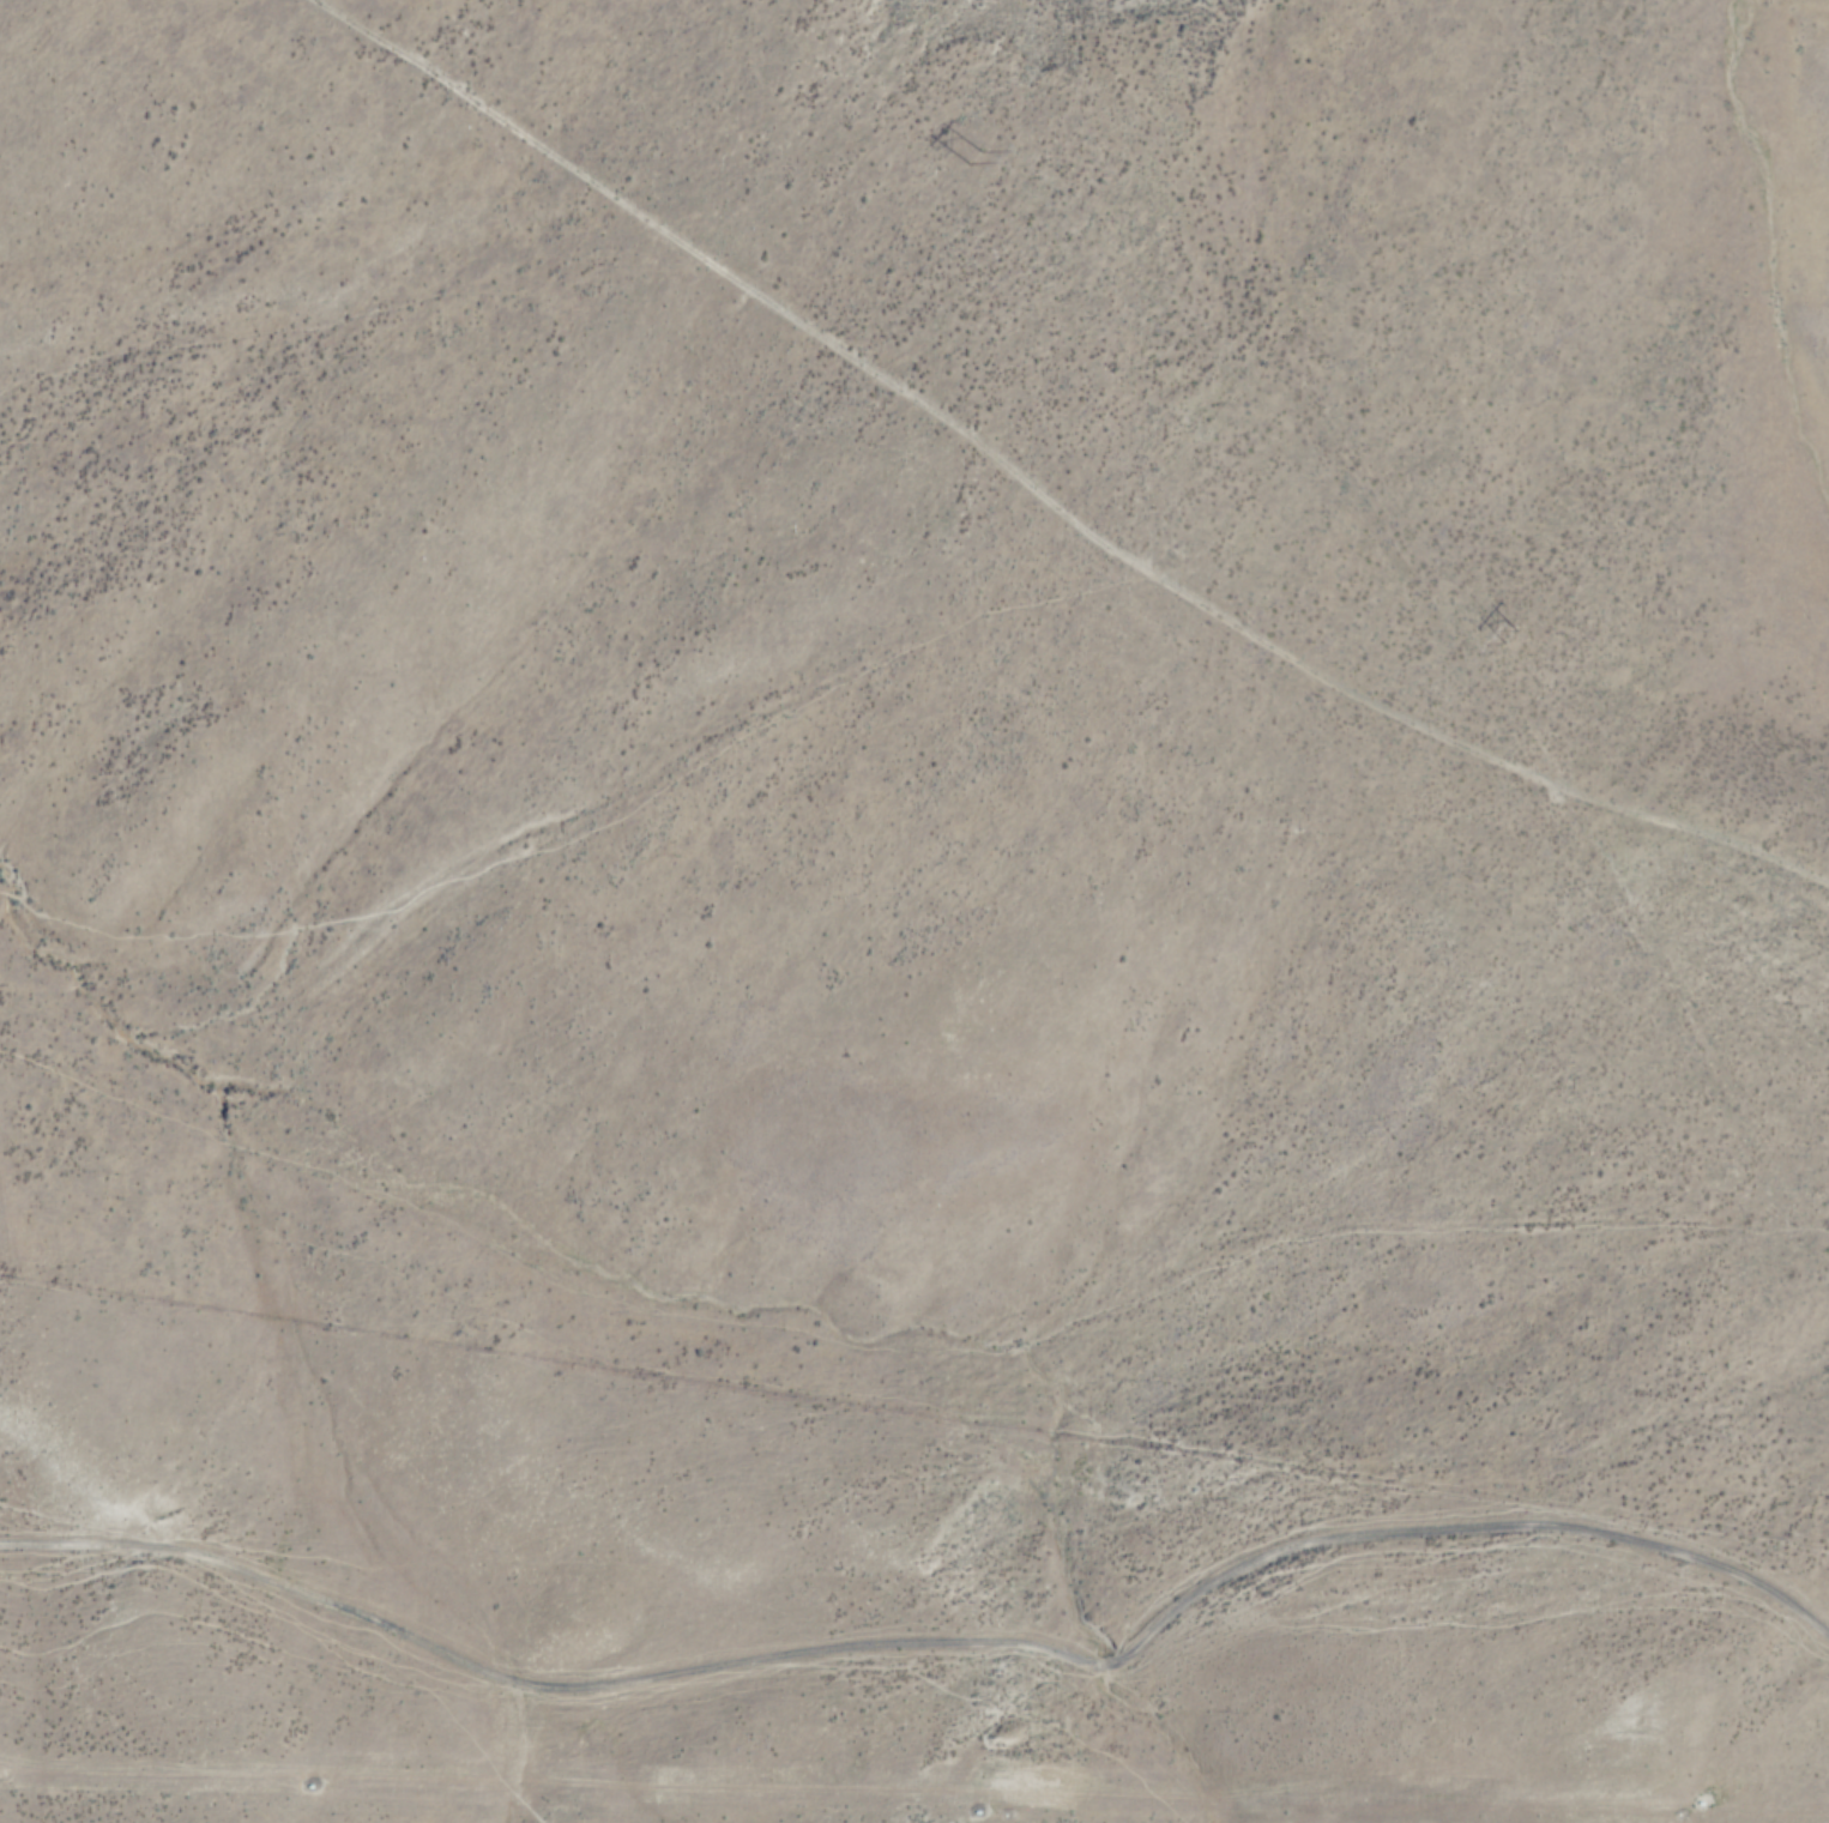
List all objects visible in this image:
power tower: (974, 158)
road: (1032, 511)
power tower: (1507, 633)

